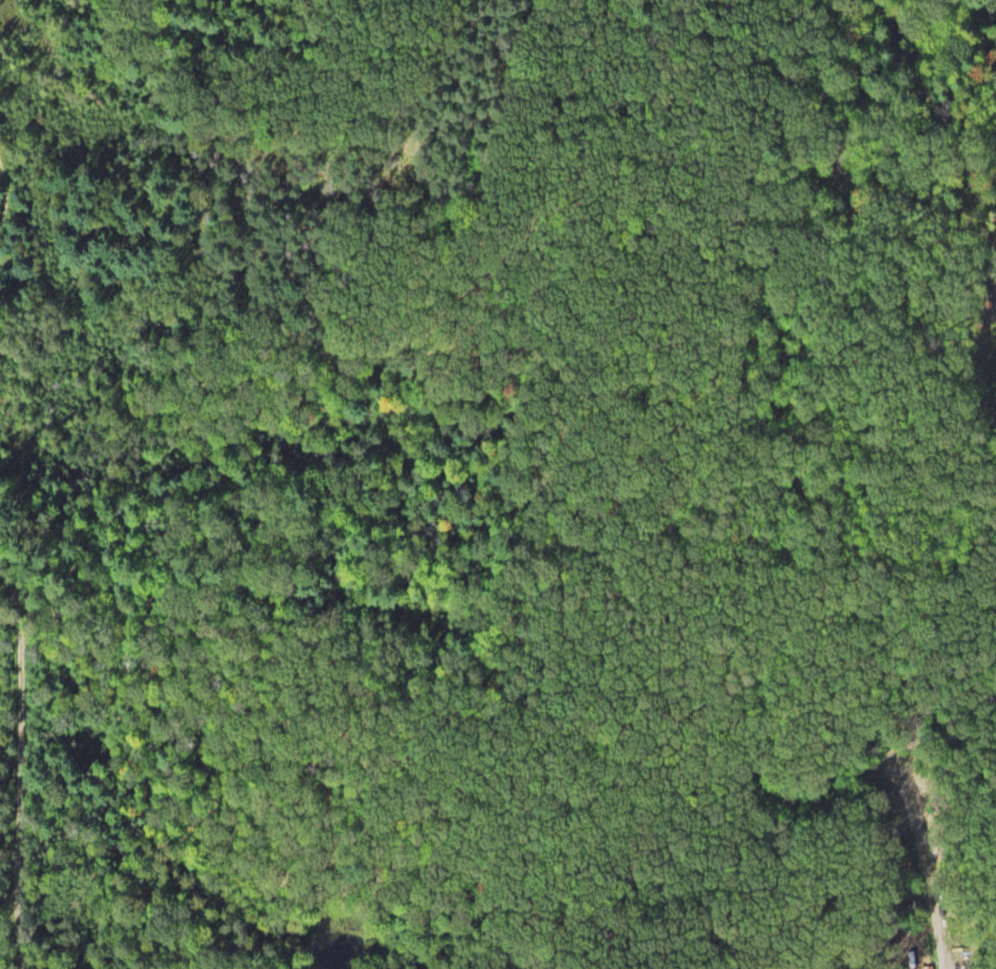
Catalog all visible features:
road: (926, 865)

